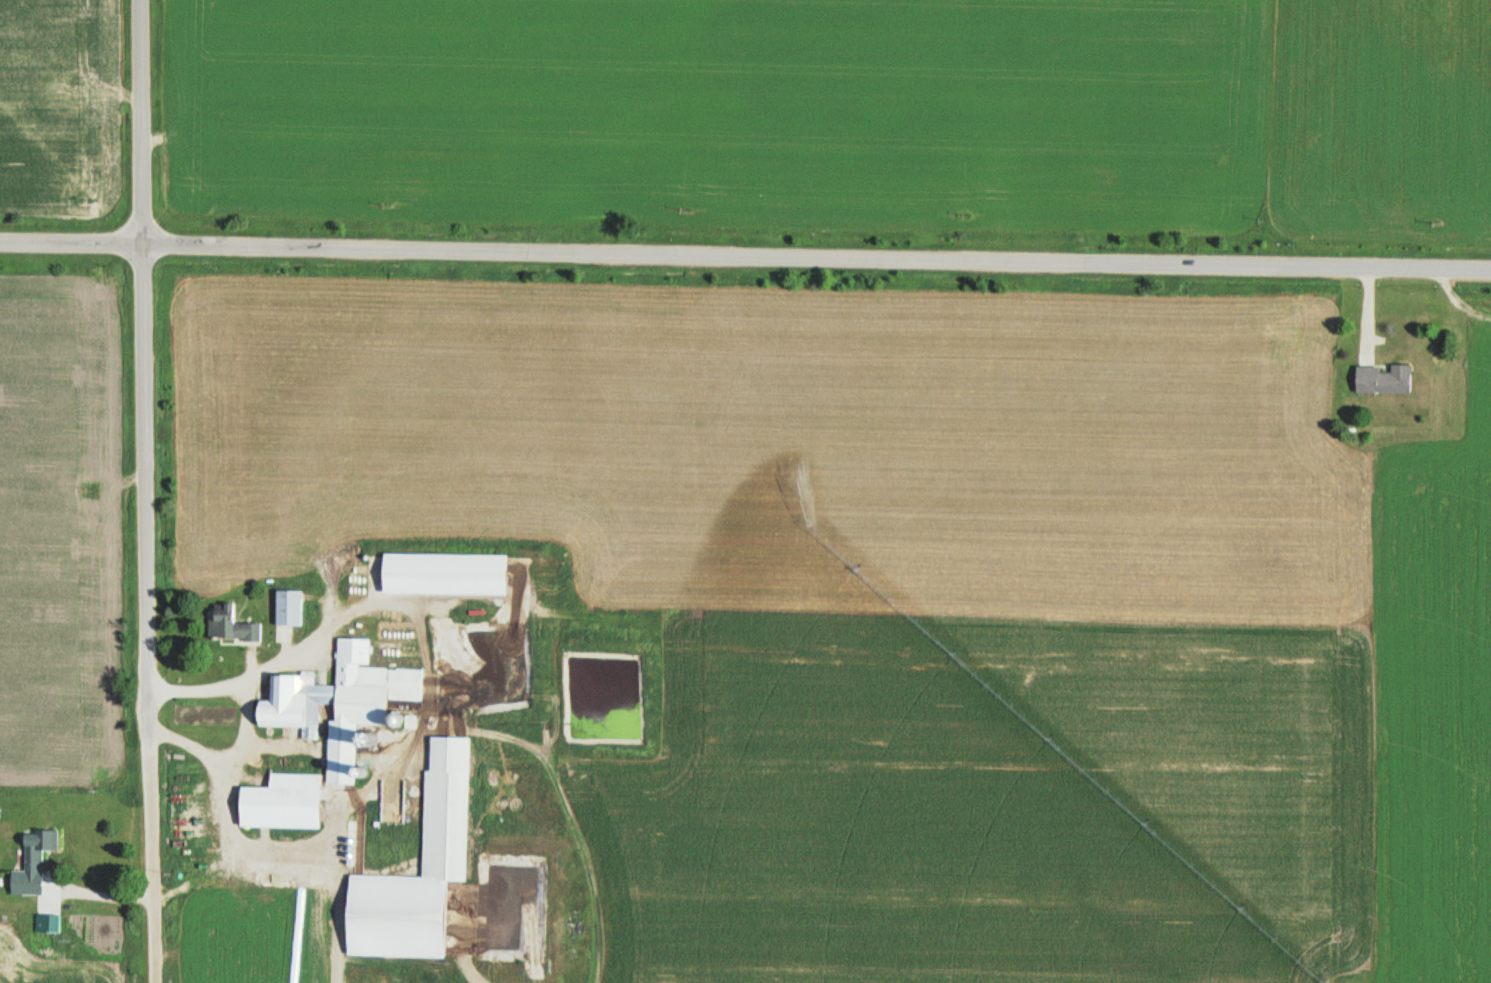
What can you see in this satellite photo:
road: (745, 257)
road: (144, 366)
building: (1383, 380)
building: (442, 574)
building: (287, 607)
building: (230, 623)
building: (343, 699)
building: (281, 803)
building: (449, 805)
road: (150, 857)
building: (32, 861)
building: (191, 933)
building: (8, 940)

